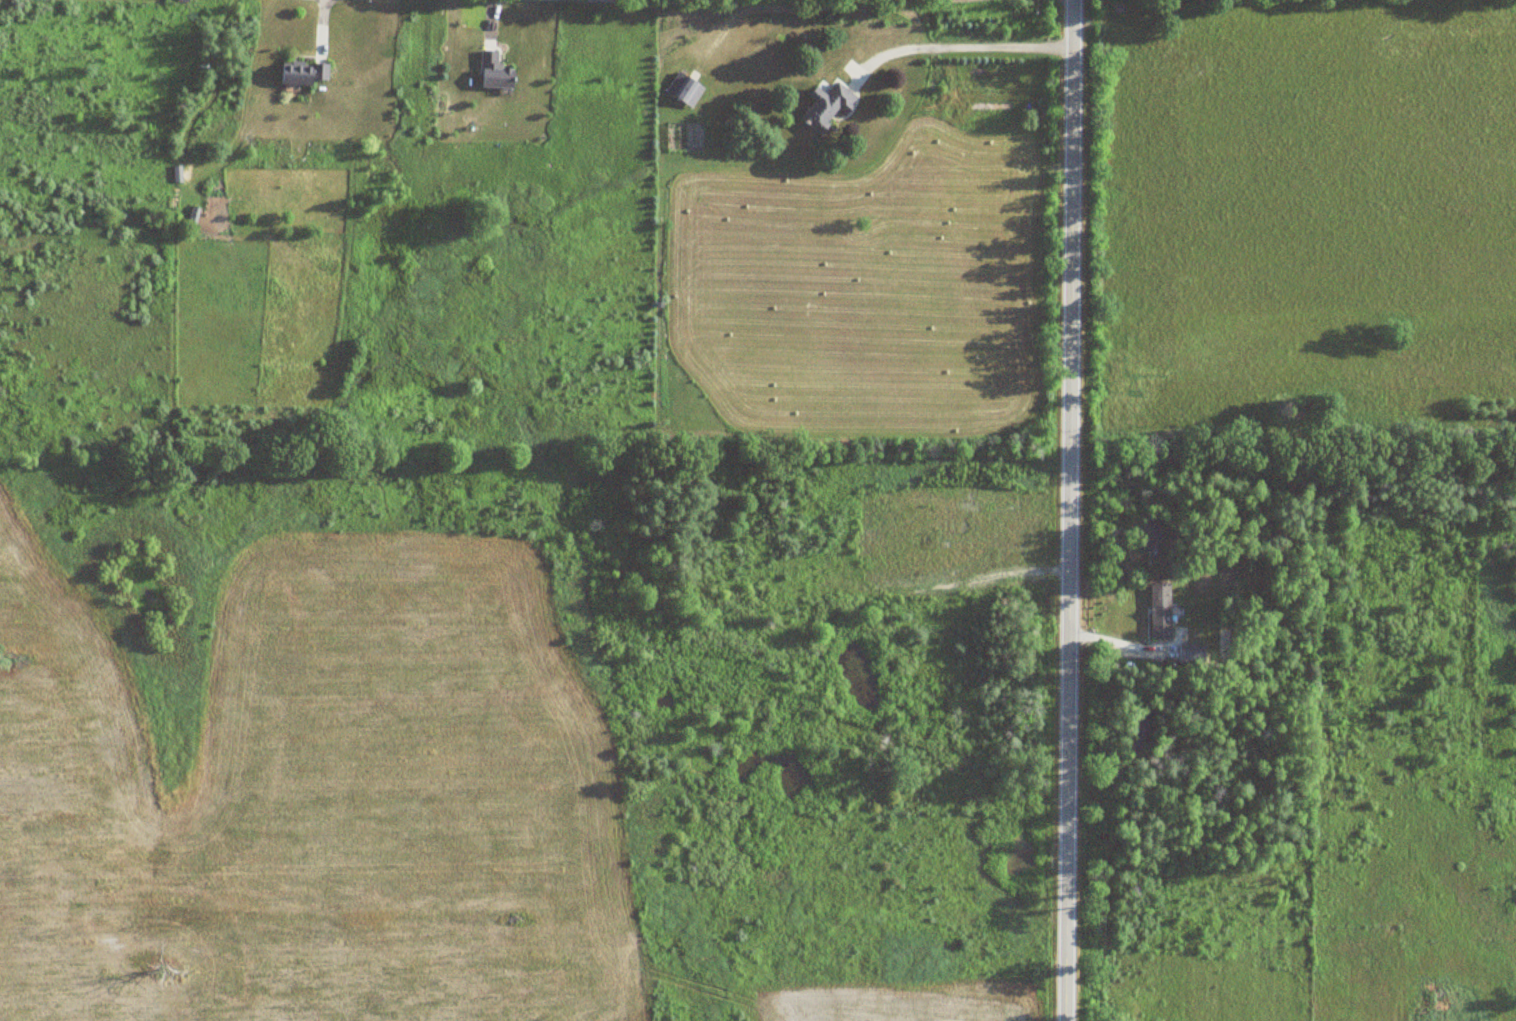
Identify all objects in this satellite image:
road: (959, 44)
building: (496, 72)
building: (303, 73)
building: (686, 89)
building: (829, 106)
road: (1071, 510)
building: (1161, 609)
building: (1192, 651)

